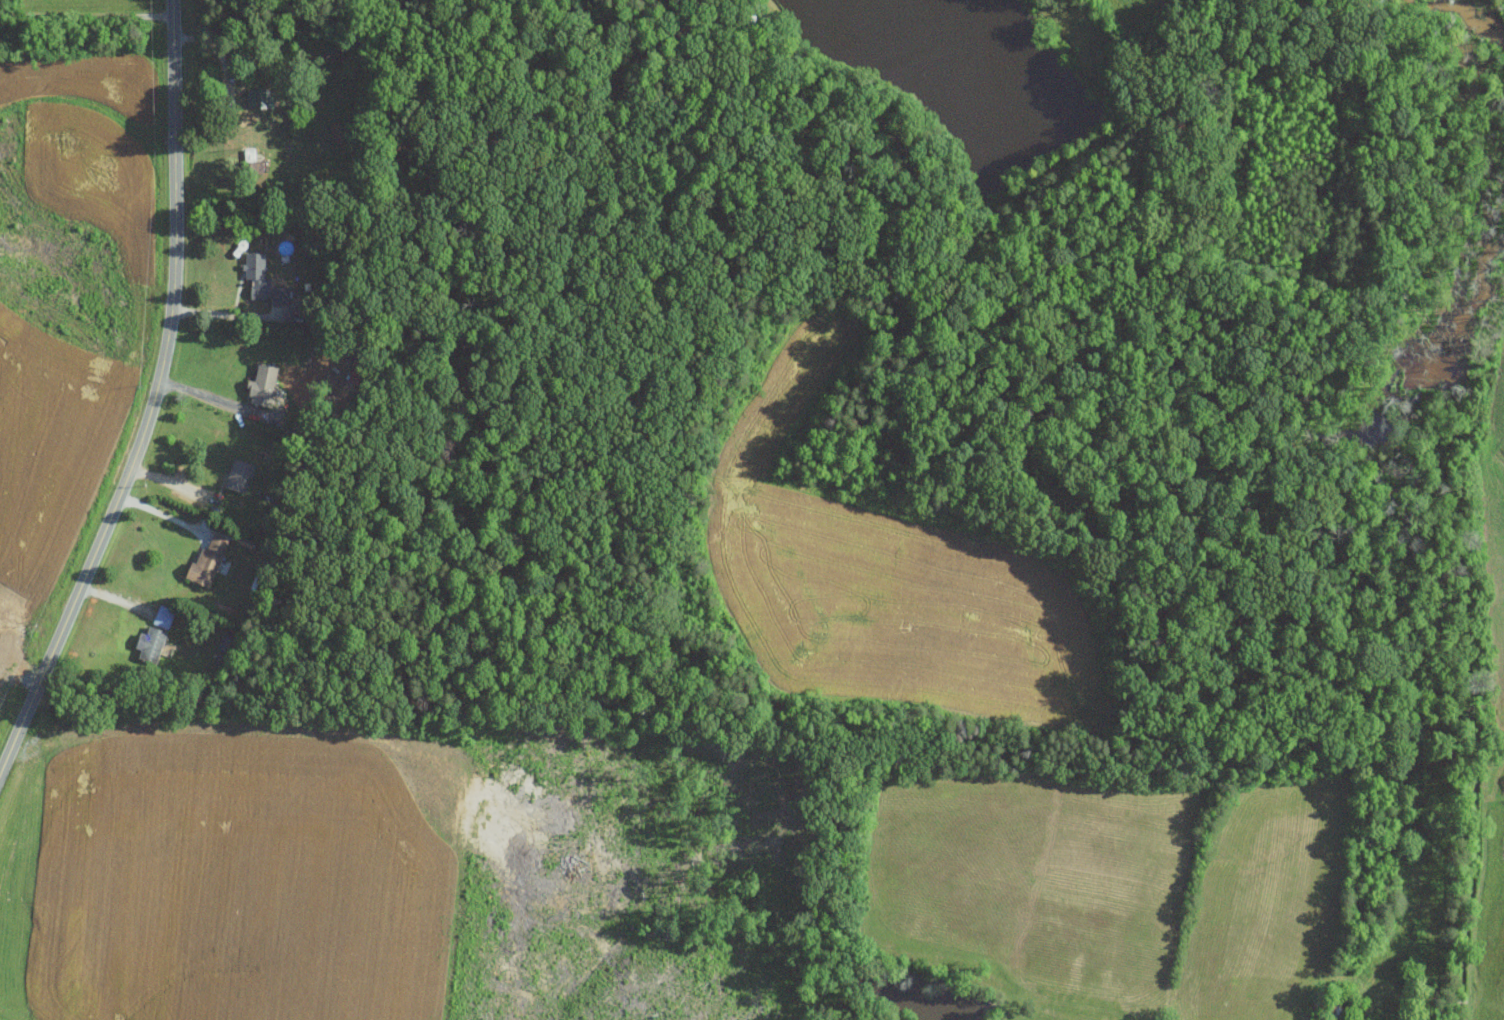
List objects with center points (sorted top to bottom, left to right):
road: (86, 14)
road: (230, 85)
building: (260, 97)
building: (258, 274)
building: (280, 294)
road: (236, 314)
building: (264, 385)
road: (219, 398)
road: (156, 401)
building: (240, 473)
road: (163, 513)
building: (208, 560)
building: (164, 615)
building: (152, 642)

